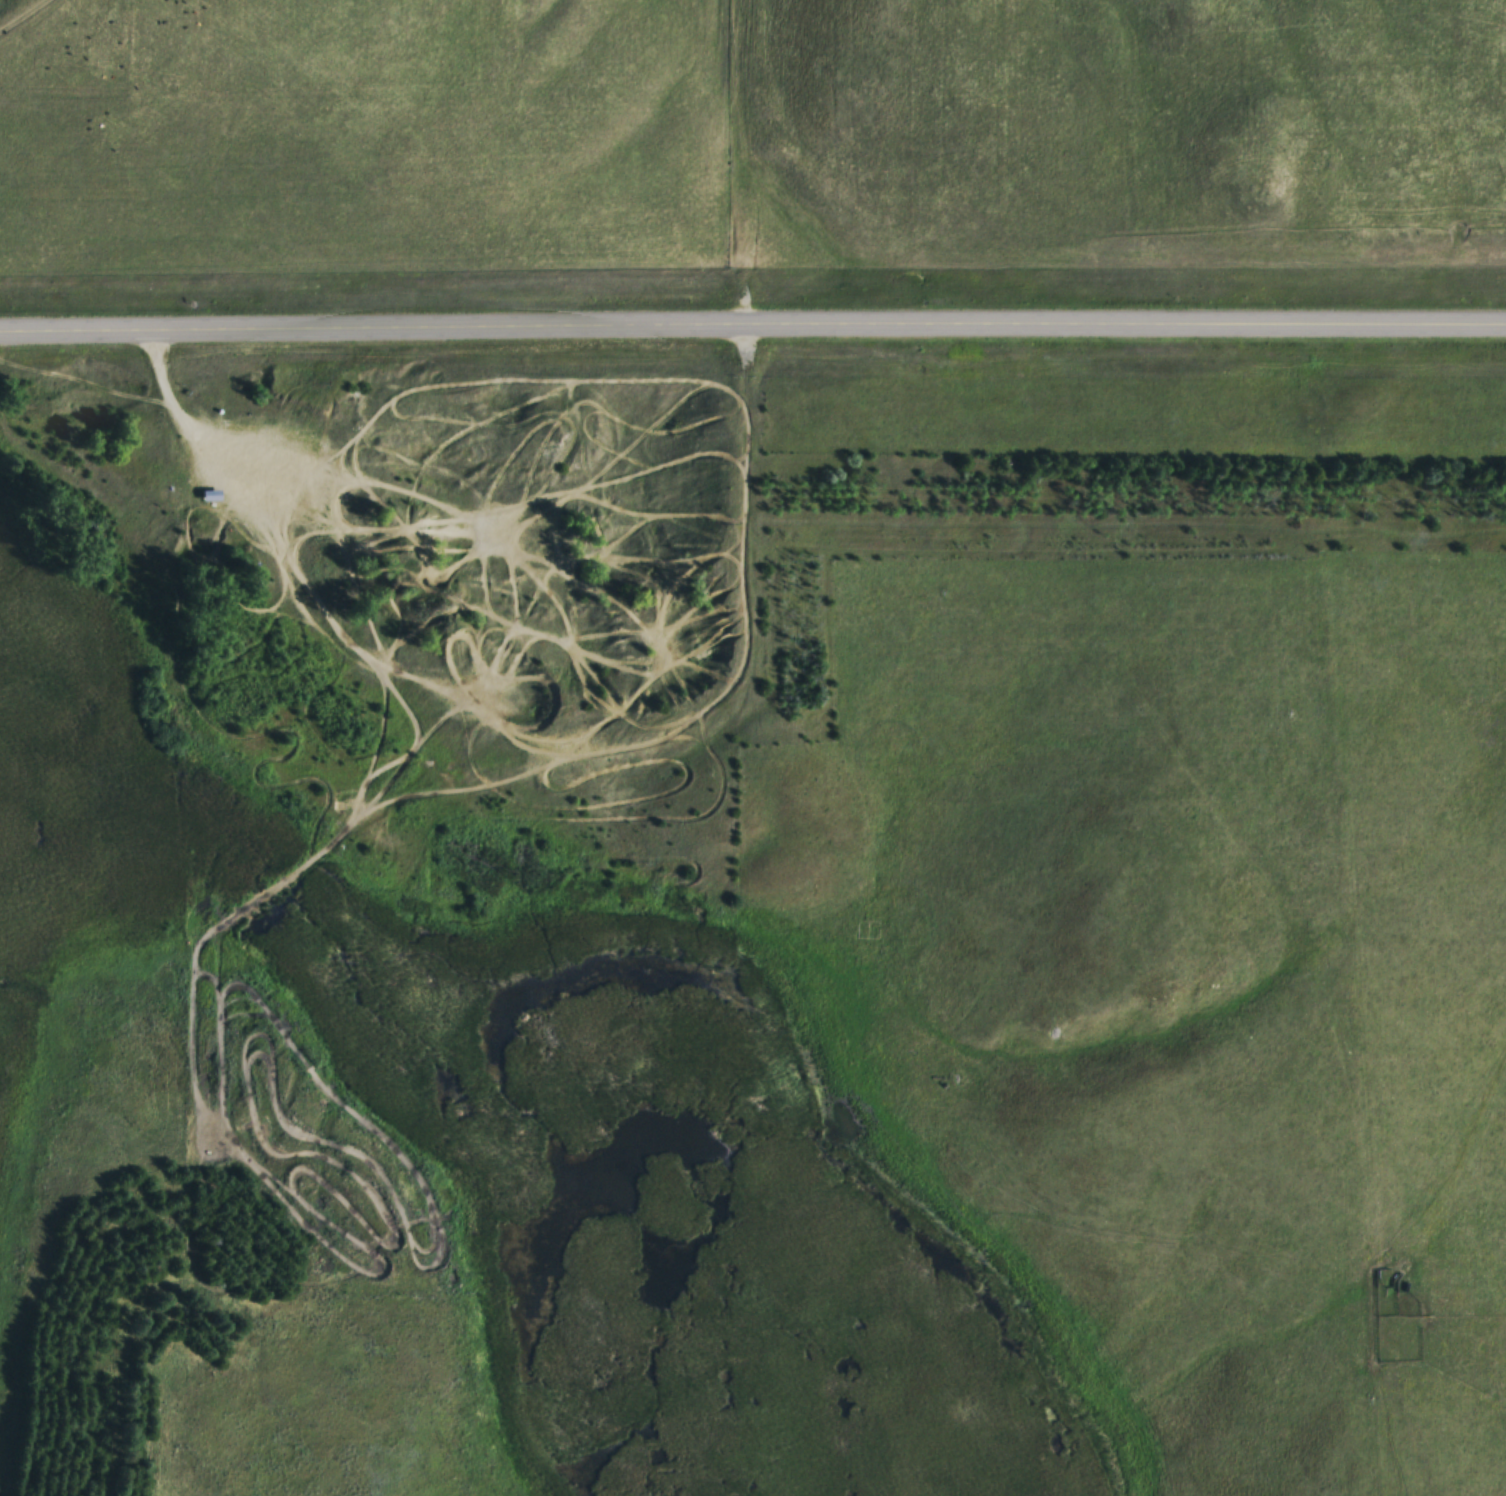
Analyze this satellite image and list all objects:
road: (752, 328)
building: (211, 494)

